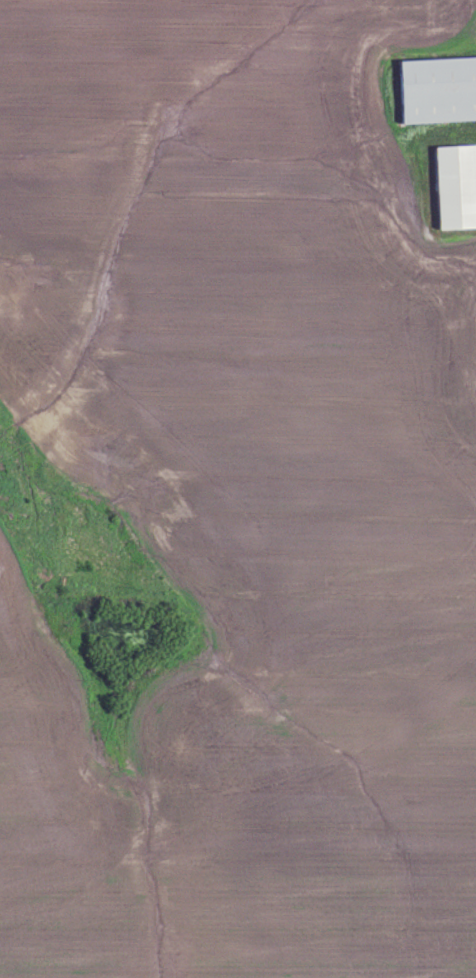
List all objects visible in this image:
building: (436, 90)
building: (454, 188)

